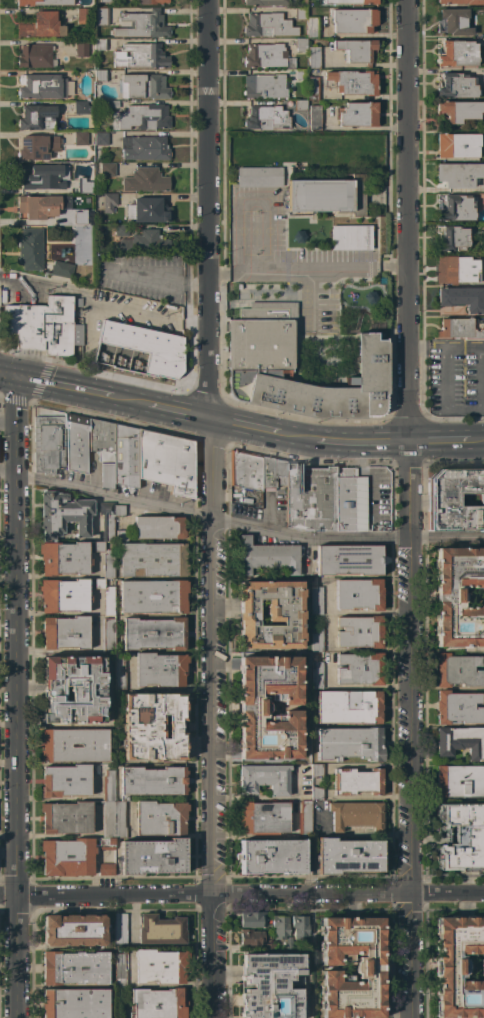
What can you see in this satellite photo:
building: (107, 1)
building: (352, 1)
building: (43, 2)
building: (151, 2)
building: (266, 2)
building: (462, 2)
building: (303, 3)
building: (300, 13)
building: (83, 16)
building: (101, 16)
building: (354, 20)
building: (455, 21)
building: (40, 25)
building: (142, 25)
building: (268, 25)
building: (312, 27)
building: (100, 44)
building: (300, 44)
building: (80, 48)
building: (356, 50)
building: (458, 53)
building: (264, 55)
building: (35, 56)
building: (140, 56)
building: (314, 58)
building: (300, 74)
building: (100, 75)
building: (352, 82)
building: (483, 85)
building: (143, 86)
building: (265, 86)
building: (457, 86)
building: (44, 87)
building: (312, 88)
building: (113, 104)
building: (300, 105)
building: (80, 107)
building: (459, 110)
building: (358, 114)
building: (36, 117)
building: (143, 117)
building: (265, 118)
building: (314, 118)
building: (80, 138)
building: (100, 138)
building: (457, 145)
building: (37, 147)
building: (144, 148)
building: (107, 169)
building: (459, 174)
building: (42, 176)
building: (259, 177)
building: (145, 180)
building: (83, 186)
building: (325, 193)
building: (109, 202)
building: (38, 206)
building: (456, 208)
road: (208, 209)
building: (150, 210)
building: (76, 217)
road: (409, 221)
building: (124, 230)
building: (351, 238)
building: (453, 238)
building: (143, 242)
building: (30, 249)
road: (282, 268)
building: (62, 269)
building: (456, 269)
road: (159, 280)
road: (104, 296)
building: (462, 298)
building: (77, 301)
building: (44, 326)
building: (460, 329)
building: (147, 347)
power substation: (139, 350)
building: (261, 355)
road: (8, 376)
traffic signals: (16, 378)
road: (445, 378)
parking lot: (456, 378)
road: (483, 378)
road: (63, 387)
road: (128, 401)
road: (178, 411)
road: (244, 426)
road: (298, 437)
building: (101, 439)
building: (76, 442)
road: (363, 442)
road: (439, 442)
road: (476, 442)
building: (48, 443)
building: (125, 456)
building: (166, 461)
building: (245, 470)
road: (7, 471)
building: (272, 473)
building: (107, 475)
road: (410, 490)
road: (111, 495)
building: (310, 498)
building: (344, 499)
building: (455, 500)
building: (118, 510)
building: (63, 514)
building: (105, 525)
building: (158, 527)
building: (122, 535)
road: (447, 537)
road: (309, 538)
building: (267, 556)
building: (64, 558)
building: (349, 559)
building: (152, 560)
building: (108, 563)
building: (98, 583)
building: (359, 594)
building: (64, 595)
building: (459, 596)
building: (153, 597)
building: (316, 600)
building: (108, 601)
building: (270, 615)
building: (359, 632)
building: (65, 633)
building: (154, 634)
building: (107, 635)
building: (316, 638)
building: (360, 669)
building: (159, 670)
building: (457, 670)
building: (118, 675)
building: (316, 675)
building: (74, 689)
road: (14, 697)
building: (349, 706)
building: (458, 707)
building: (254, 708)
road: (410, 714)
road: (207, 717)
building: (153, 727)
building: (460, 741)
building: (350, 743)
building: (74, 745)
building: (316, 770)
building: (264, 778)
building: (65, 781)
building: (152, 781)
building: (357, 781)
building: (459, 781)
building: (107, 786)
building: (316, 793)
building: (356, 815)
building: (66, 817)
building: (263, 817)
building: (108, 819)
building: (159, 819)
building: (304, 819)
building: (119, 820)
building: (461, 837)
building: (106, 844)
building: (67, 856)
building: (152, 856)
building: (272, 856)
building: (348, 856)
building: (106, 869)
road: (249, 893)
road: (7, 894)
building: (252, 919)
building: (280, 926)
building: (299, 927)
building: (120, 929)
building: (161, 929)
building: (73, 930)
building: (250, 937)
road: (411, 955)
building: (160, 966)
building: (459, 966)
building: (74, 968)
building: (120, 968)
building: (368, 968)
building: (272, 985)
building: (75, 1003)
building: (158, 1003)

